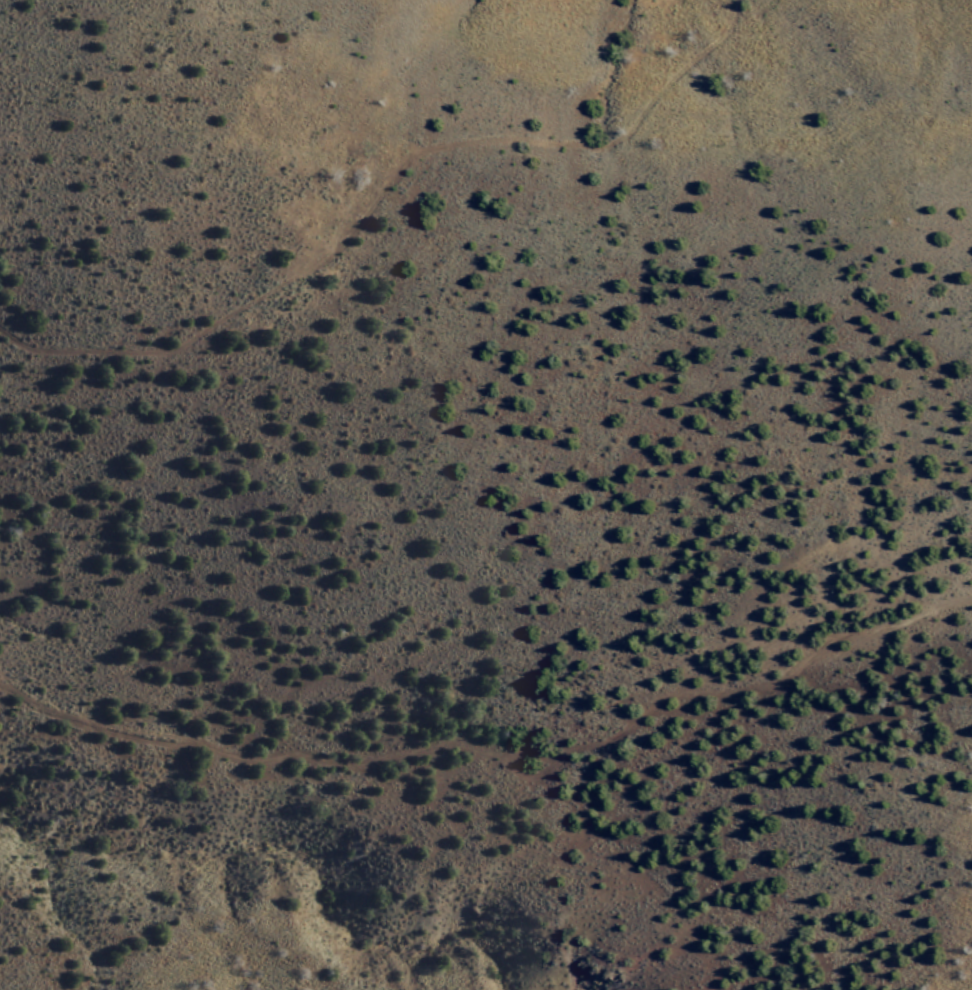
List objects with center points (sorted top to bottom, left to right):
road: (491, 744)

